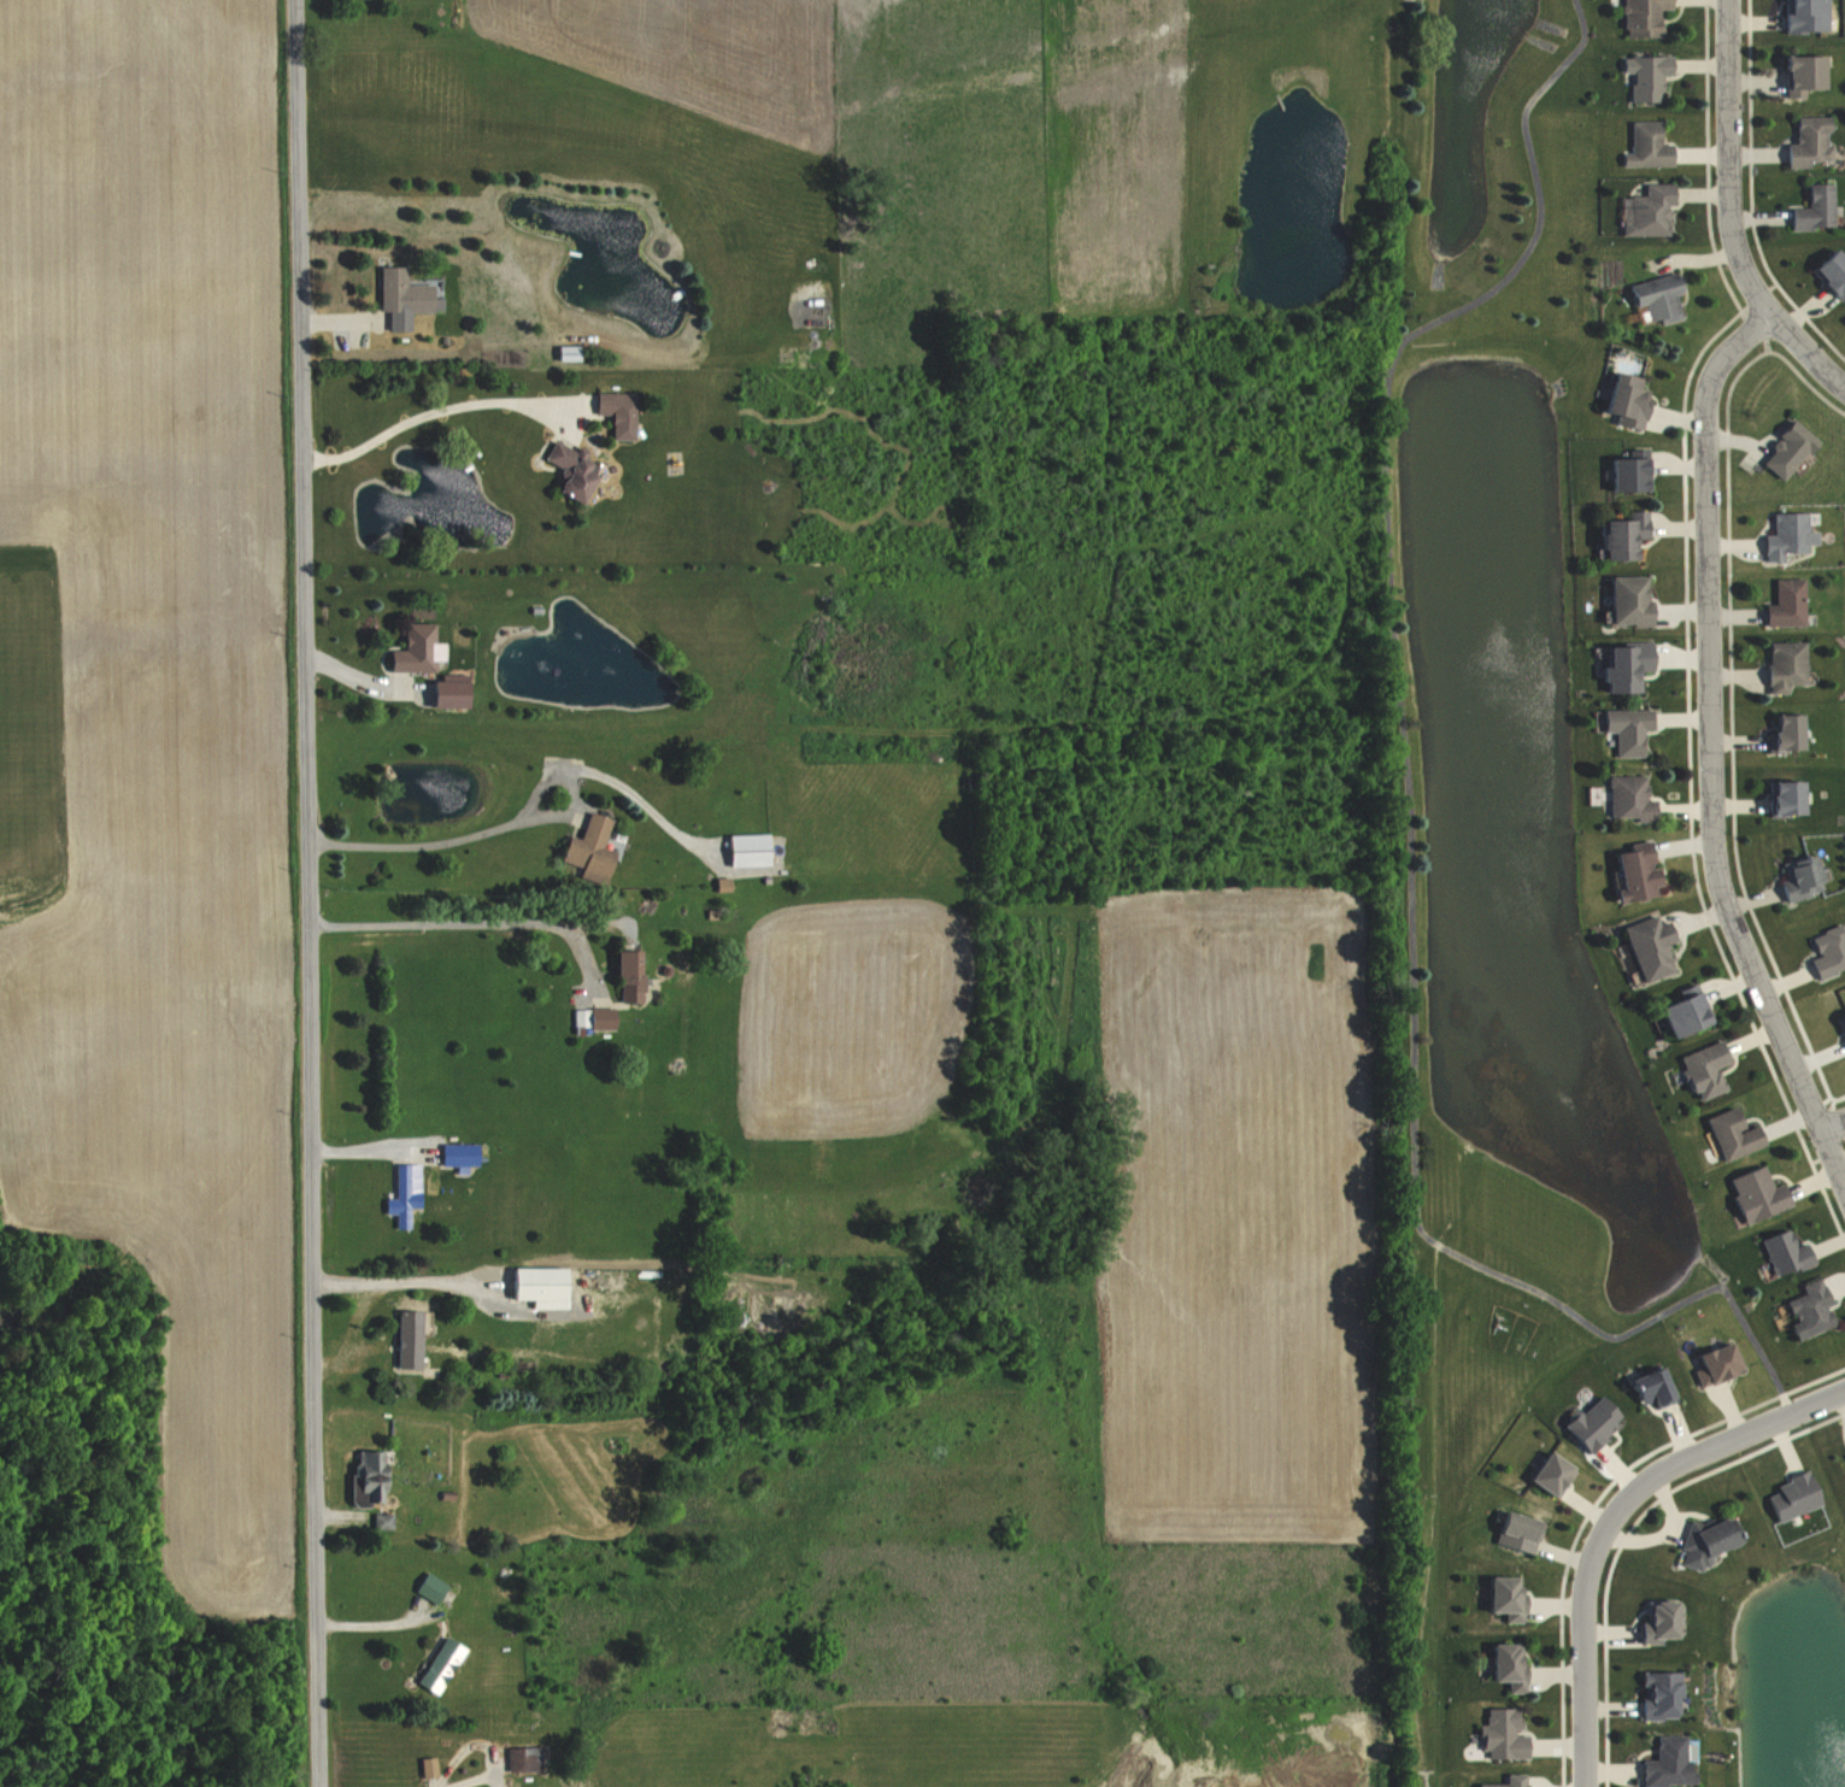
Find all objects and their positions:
building: (1799, 14)
building: (1635, 17)
building: (1794, 74)
building: (1641, 75)
building: (1803, 141)
building: (1643, 145)
building: (1808, 207)
building: (1644, 210)
road: (1727, 216)
building: (1826, 272)
building: (399, 296)
building: (1655, 296)
building: (1620, 399)
building: (613, 412)
road: (427, 413)
building: (1782, 449)
building: (566, 470)
building: (1622, 472)
building: (1617, 535)
building: (1785, 535)
building: (1624, 600)
building: (1782, 602)
building: (412, 649)
building: (1620, 665)
building: (1780, 665)
building: (440, 694)
building: (1623, 729)
building: (1779, 733)
road: (1712, 752)
building: (1624, 796)
building: (1781, 798)
road: (436, 842)
building: (583, 846)
building: (741, 850)
building: (1794, 877)
road: (310, 893)
road: (464, 922)
building: (1644, 946)
building: (1825, 951)
building: (623, 975)
building: (1677, 1011)
building: (577, 1017)
building: (599, 1017)
building: (1839, 1028)
building: (1698, 1070)
road: (1833, 1124)
building: (1727, 1133)
building: (457, 1152)
building: (403, 1193)
building: (1750, 1193)
building: (1781, 1251)
road: (401, 1281)
building: (533, 1285)
building: (1804, 1309)
building: (404, 1338)
building: (1709, 1360)
building: (1647, 1386)
building: (1585, 1422)
building: (1844, 1452)
building: (1545, 1474)
building: (364, 1477)
building: (1790, 1494)
building: (378, 1519)
road: (1610, 1519)
building: (1511, 1530)
building: (1700, 1540)
building: (425, 1586)
building: (1498, 1597)
building: (1650, 1620)
building: (435, 1664)
building: (1500, 1665)
building: (1655, 1693)
building: (1498, 1733)
building: (521, 1758)
building: (1663, 1762)
building: (424, 1765)
building: (1503, 1781)

